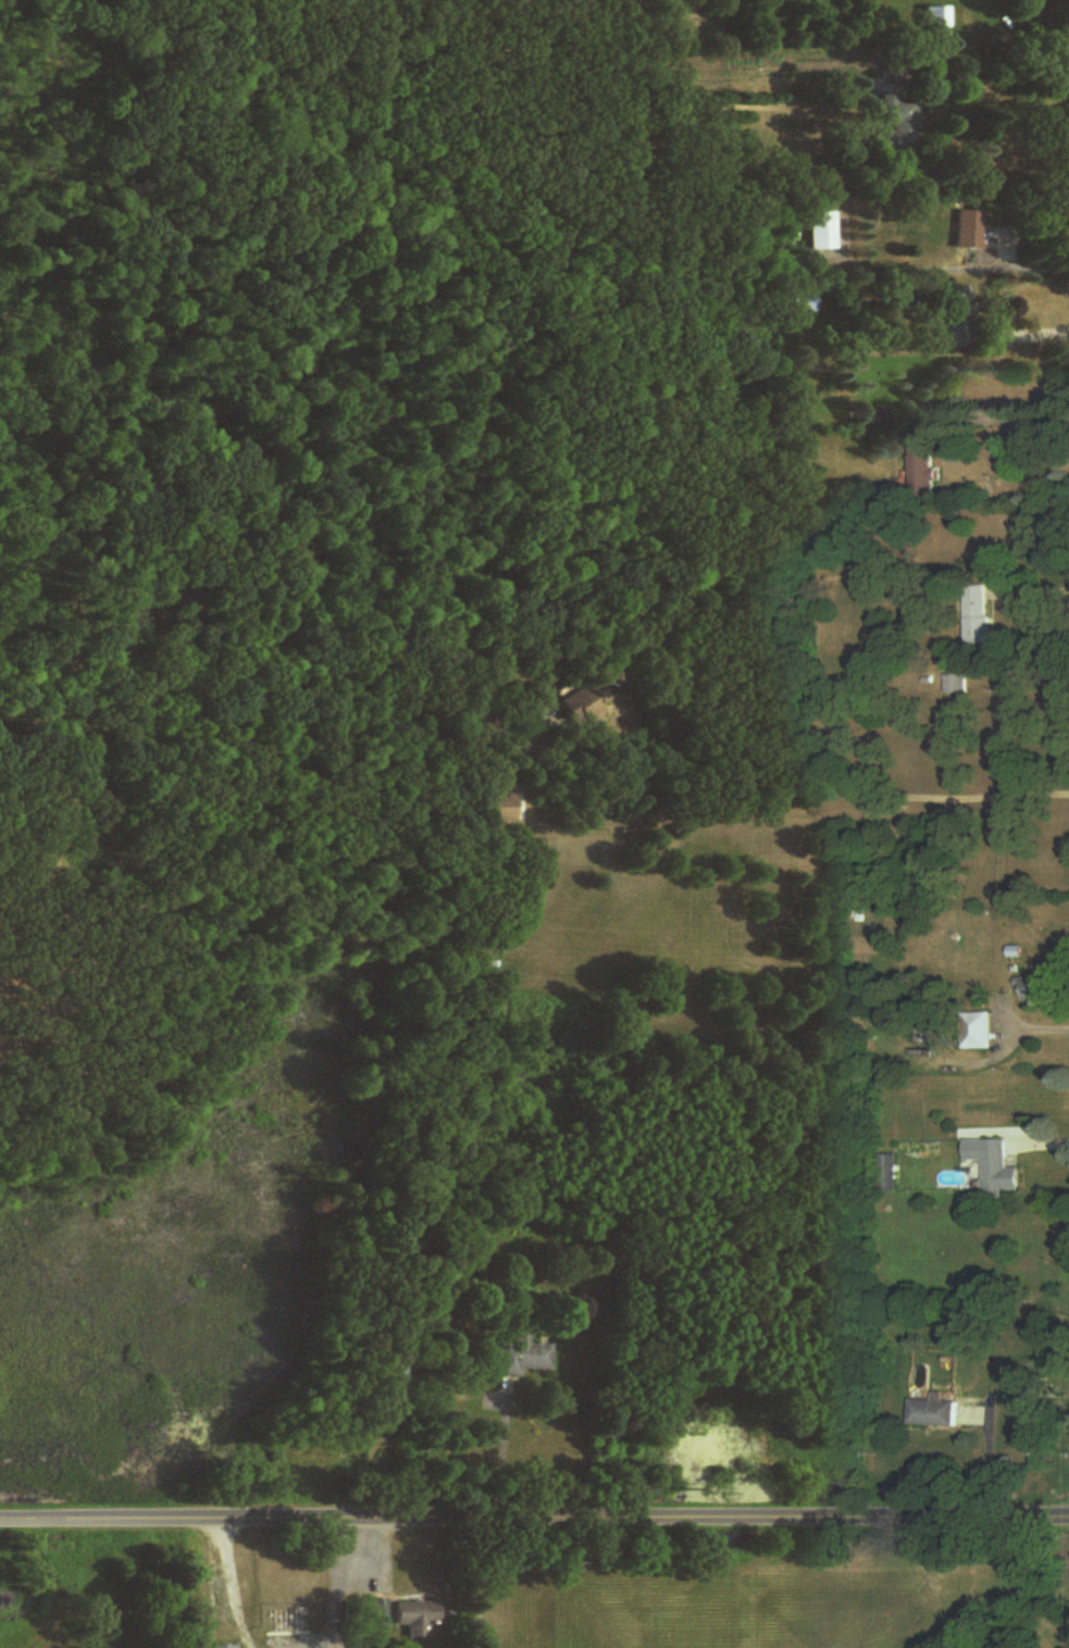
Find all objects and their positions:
building: (937, 23)
road: (991, 72)
building: (898, 124)
building: (823, 230)
building: (968, 230)
road: (948, 270)
building: (957, 317)
road: (1027, 330)
building: (925, 465)
road: (1003, 485)
road: (1031, 590)
building: (979, 619)
building: (957, 685)
building: (582, 706)
road: (744, 789)
building: (501, 809)
building: (1040, 991)
road: (1035, 1028)
building: (982, 1029)
building: (1000, 1172)
building: (468, 1246)
building: (524, 1353)
building: (391, 1378)
building: (935, 1414)
road: (501, 1458)
road: (534, 1516)
road: (341, 1586)
road: (216, 1590)
building: (371, 1613)
building: (419, 1618)
building: (219, 1647)

